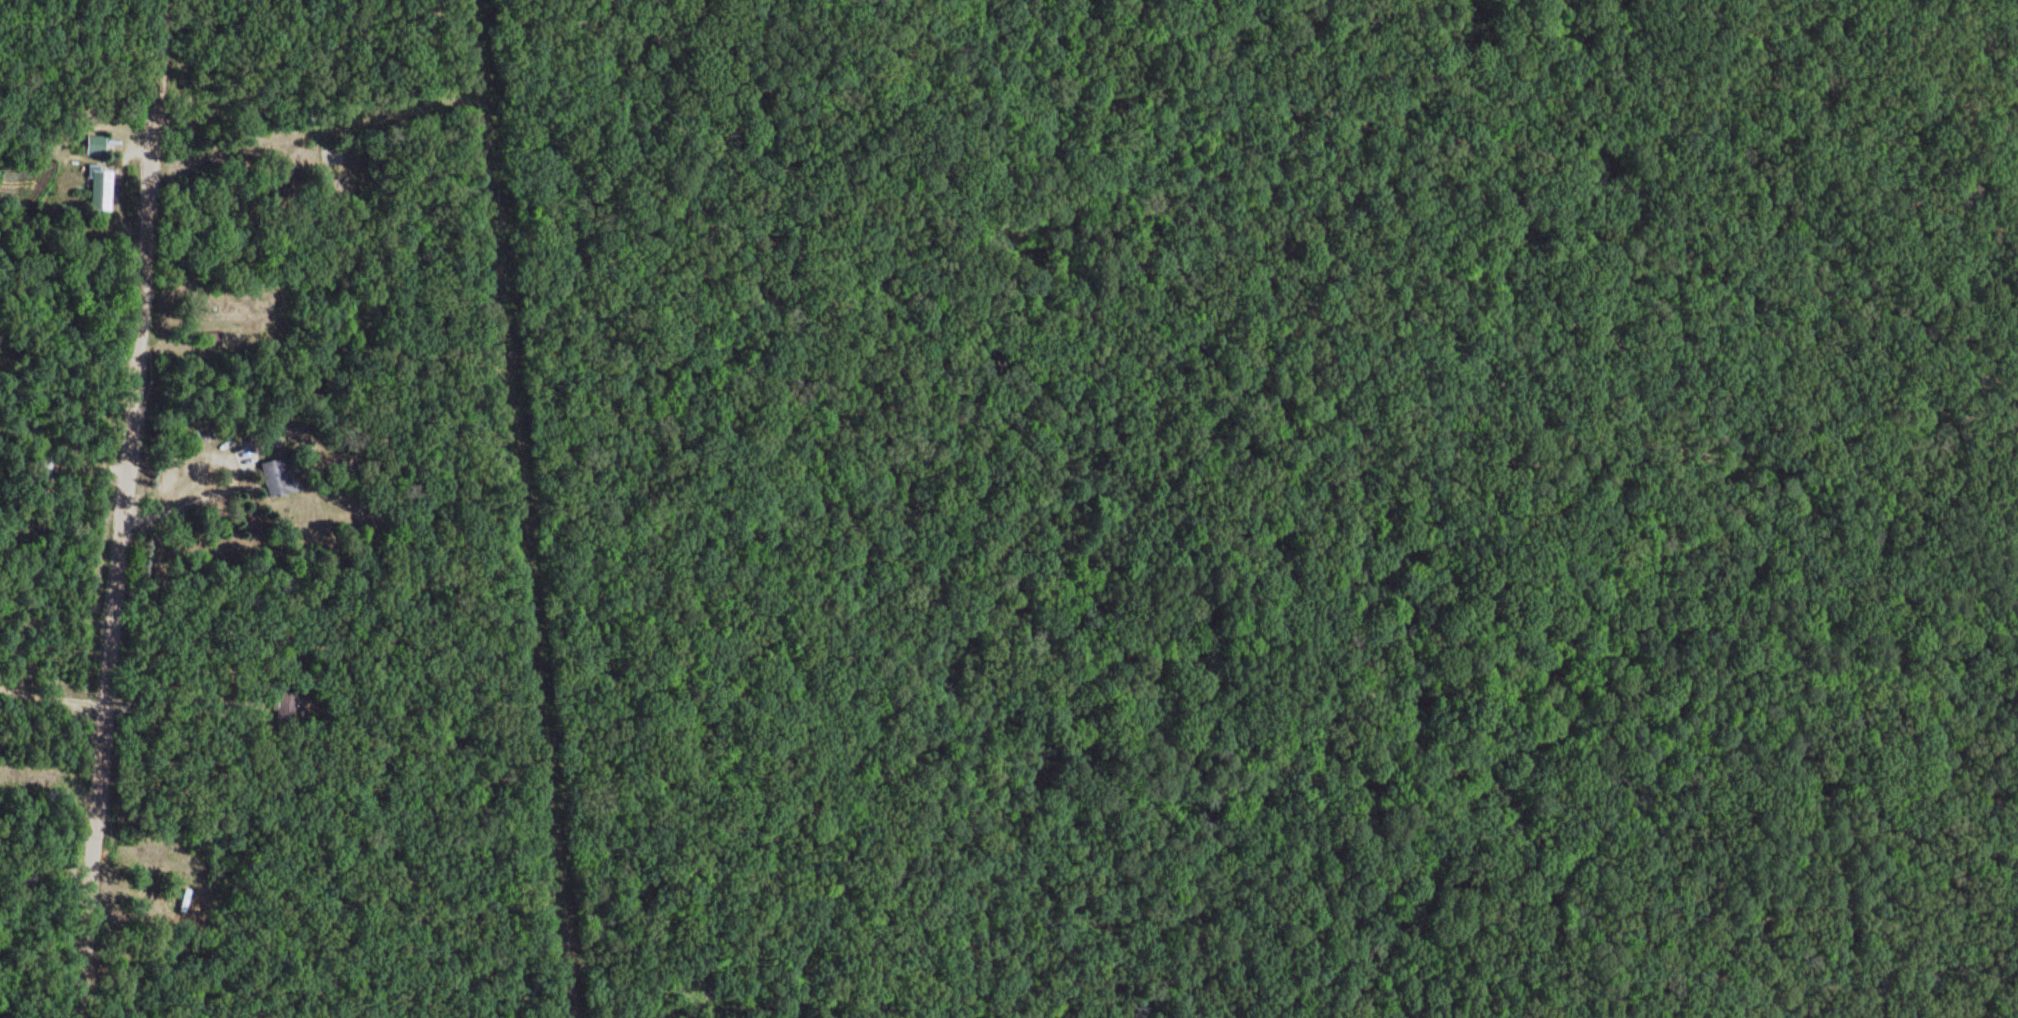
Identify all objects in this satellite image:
road: (811, 39)
building: (94, 144)
building: (100, 190)
building: (209, 343)
building: (46, 469)
building: (276, 478)
road: (119, 508)
building: (289, 707)

